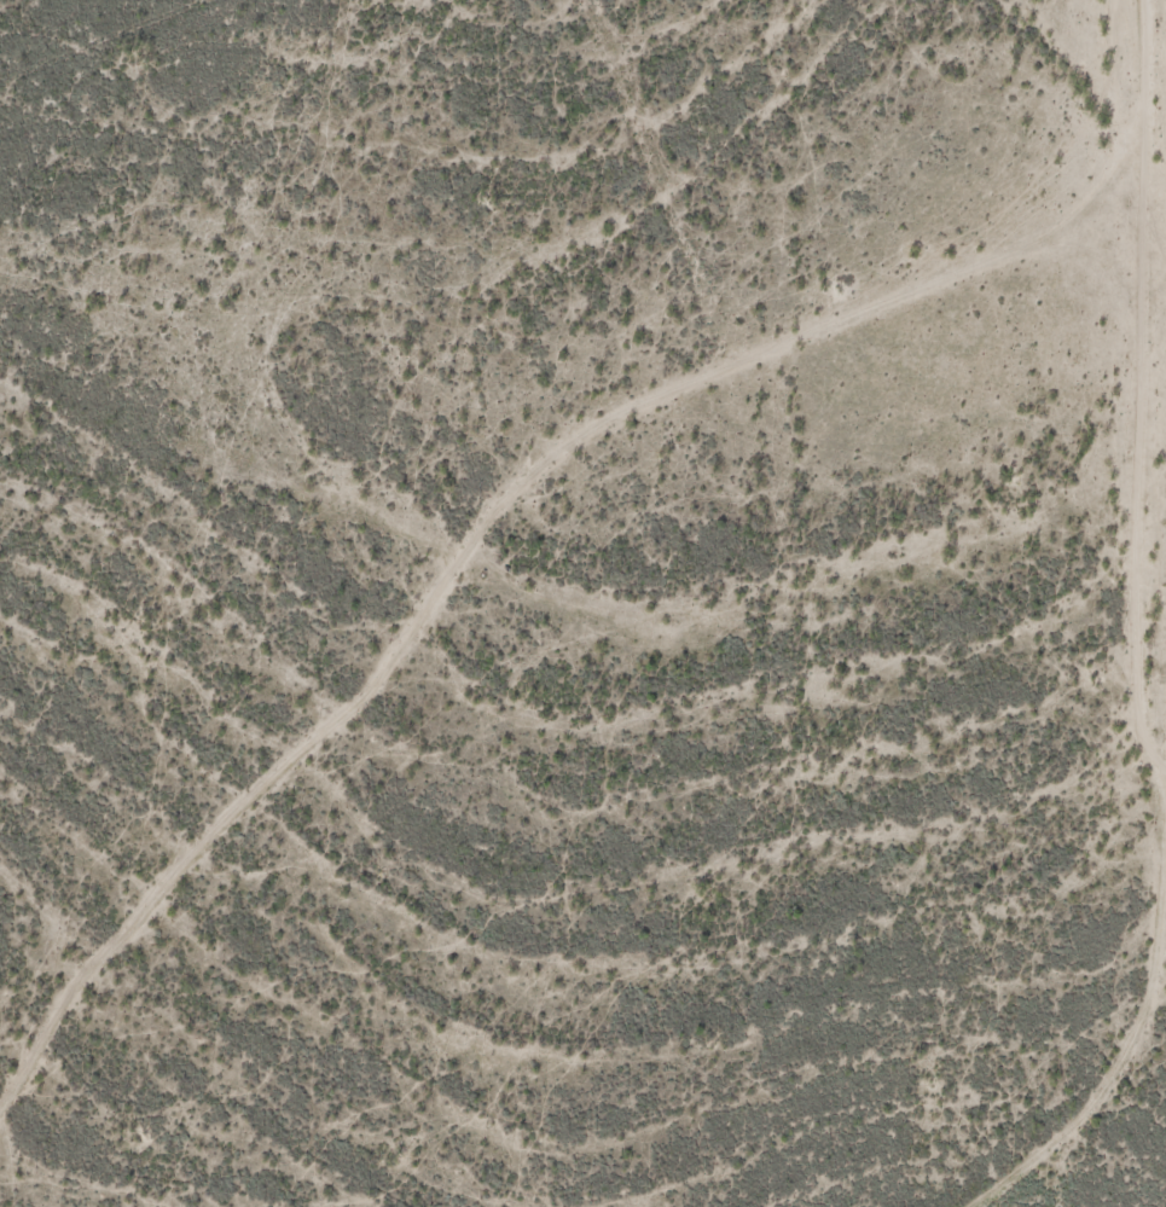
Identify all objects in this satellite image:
road: (1148, 376)

